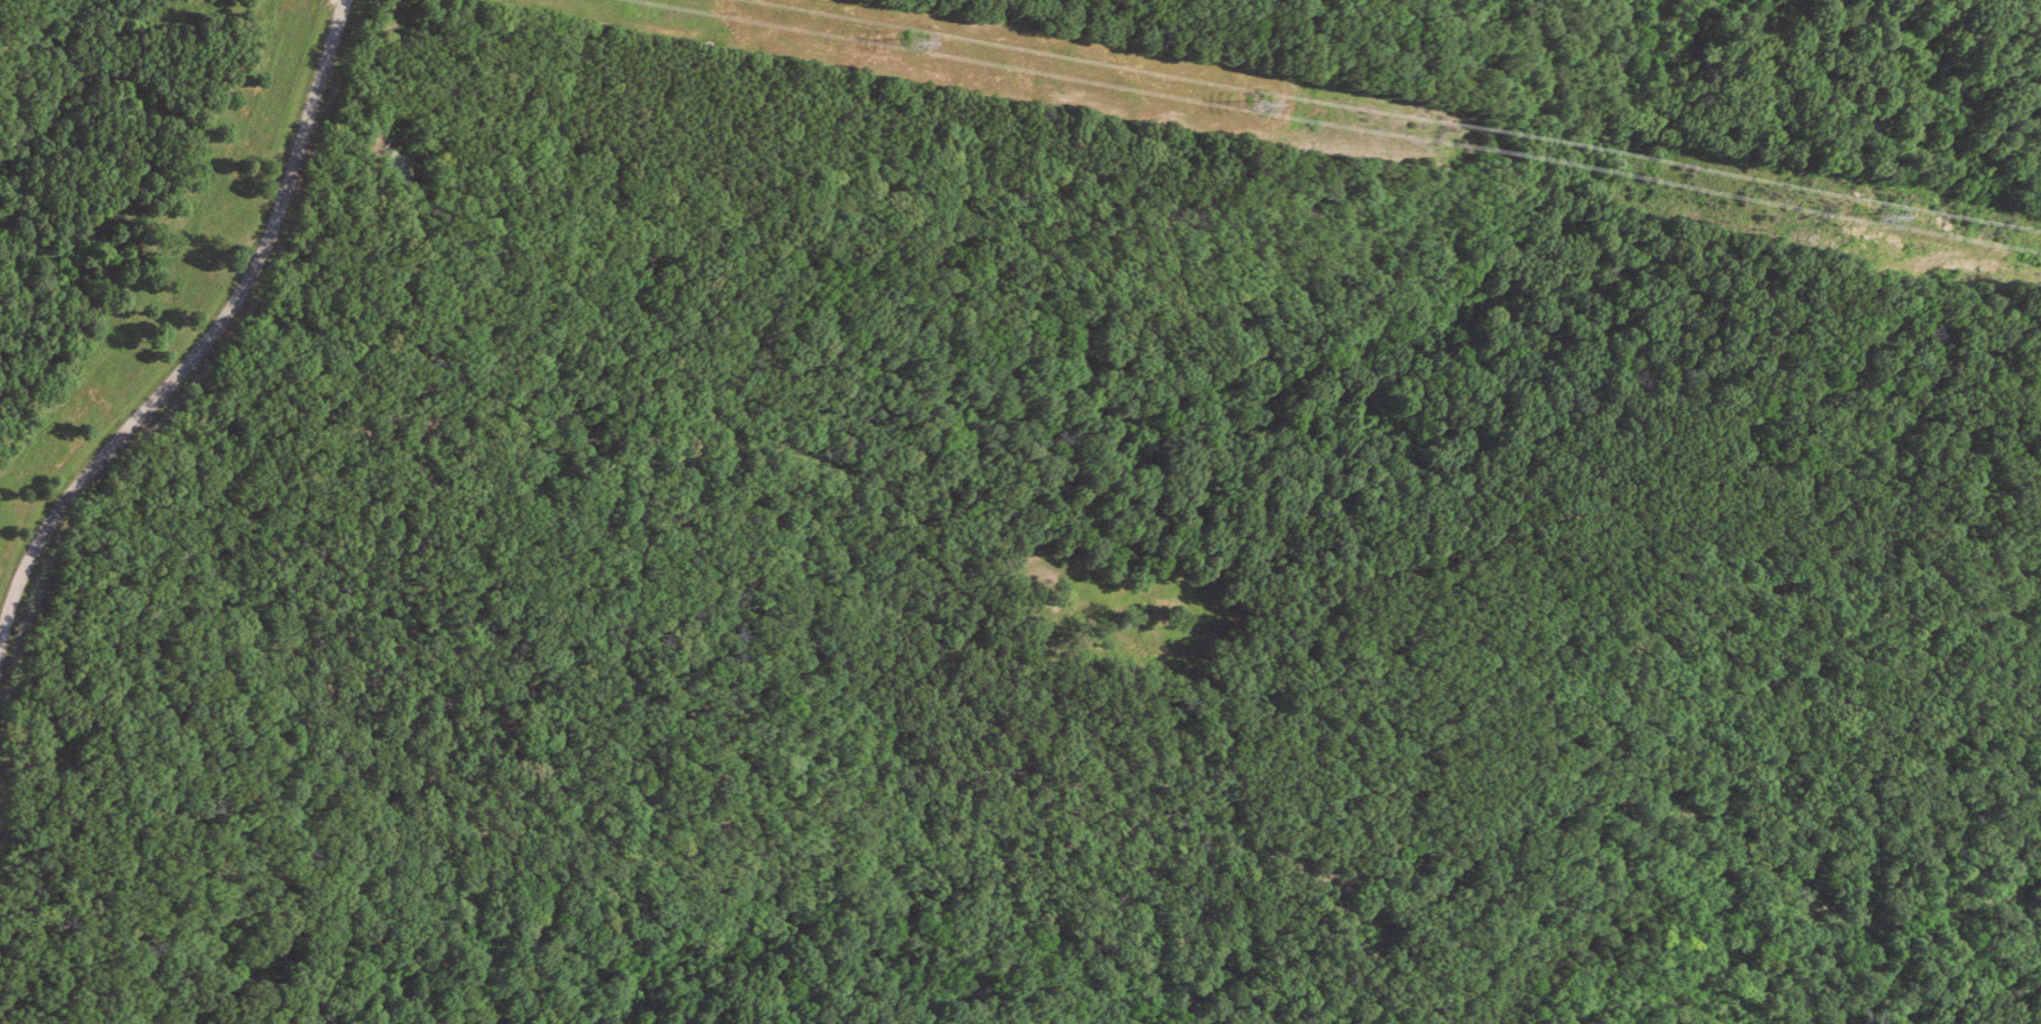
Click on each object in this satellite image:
road: (205, 355)

